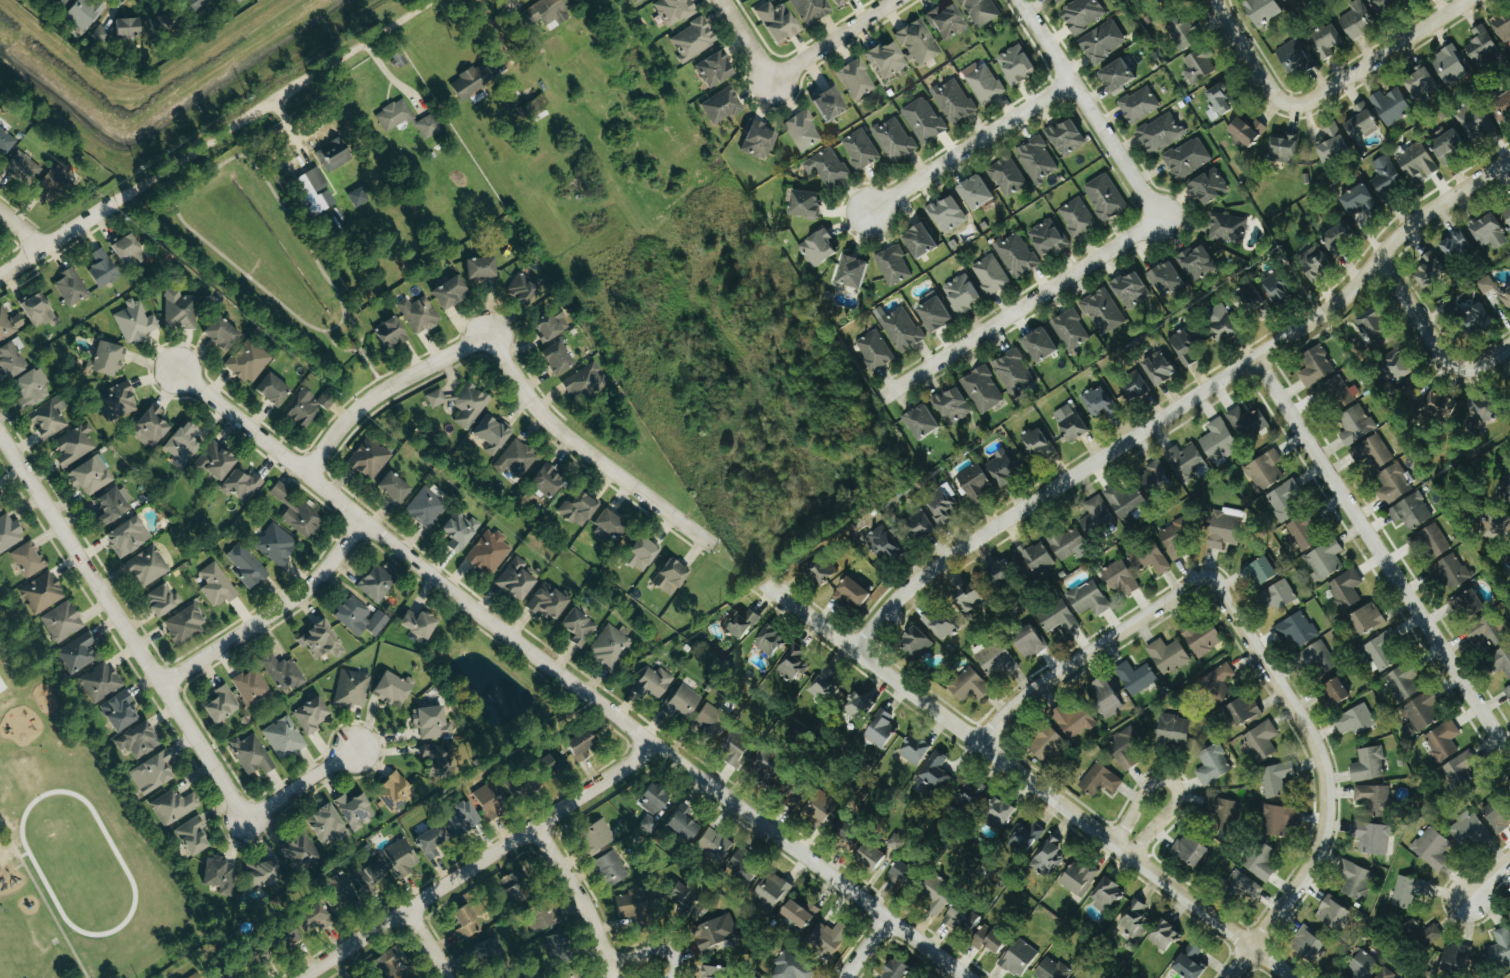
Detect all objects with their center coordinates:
building: (1053, 0)
building: (1169, 0)
building: (1286, 0)
building: (236, 1)
building: (636, 1)
building: (838, 2)
building: (56, 3)
building: (194, 4)
building: (1386, 5)
building: (673, 10)
building: (810, 10)
building: (1262, 10)
building: (980, 11)
building: (546, 13)
building: (82, 14)
building: (1082, 14)
building: (1357, 19)
building: (946, 21)
building: (776, 22)
building: (158, 23)
building: (125, 27)
building: (1503, 27)
building: (1183, 33)
building: (99, 34)
building: (692, 40)
road: (746, 40)
road: (833, 40)
building: (1325, 40)
building: (1102, 41)
building: (918, 42)
building: (1482, 47)
road: (1382, 57)
road: (1248, 58)
building: (1294, 58)
building: (886, 59)
building: (1016, 65)
building: (1449, 65)
building: (1199, 66)
building: (713, 69)
building: (1116, 75)
building: (855, 79)
building: (473, 81)
building: (985, 84)
building: (1421, 84)
building: (954, 101)
road: (270, 102)
building: (1218, 102)
building: (522, 104)
building: (828, 104)
building: (1139, 105)
building: (1391, 105)
building: (721, 106)
building: (1501, 107)
road: (1087, 109)
building: (394, 115)
building: (924, 120)
building: (1475, 122)
building: (1361, 123)
building: (427, 126)
building: (1247, 130)
building: (803, 131)
building: (1161, 133)
building: (2, 134)
building: (1066, 137)
building: (894, 139)
building: (757, 140)
building: (1332, 144)
building: (1448, 147)
road: (967, 148)
building: (1283, 148)
building: (860, 149)
building: (333, 155)
building: (1187, 158)
building: (1036, 160)
building: (1415, 160)
building: (827, 167)
building: (21, 168)
building: (1007, 176)
building: (1386, 178)
building: (53, 180)
building: (1209, 187)
building: (314, 191)
building: (975, 193)
building: (359, 195)
building: (1105, 197)
building: (1360, 201)
building: (805, 203)
building: (1507, 214)
building: (947, 215)
building: (1077, 218)
building: (1227, 228)
road: (22, 229)
building: (1489, 232)
building: (1339, 236)
building: (1047, 238)
road: (55, 239)
building: (919, 241)
building: (1455, 246)
building: (123, 248)
building: (818, 248)
building: (1016, 255)
building: (1315, 262)
building: (1197, 263)
building: (893, 265)
building: (102, 269)
building: (478, 269)
building: (1430, 270)
building: (851, 272)
building: (991, 275)
building: (1165, 279)
building: (1486, 285)
building: (70, 287)
building: (522, 287)
building: (1276, 288)
building: (1130, 289)
building: (448, 293)
building: (961, 294)
building: (1502, 296)
building: (1253, 300)
road: (1019, 308)
building: (1447, 309)
building: (36, 310)
building: (1103, 311)
building: (933, 313)
building: (419, 314)
building: (1477, 319)
building: (134, 322)
building: (1221, 322)
building: (9, 324)
building: (549, 325)
building: (1374, 326)
building: (900, 328)
building: (1070, 330)
building: (219, 334)
building: (389, 334)
road: (1430, 341)
building: (1039, 345)
building: (1183, 346)
building: (874, 350)
building: (555, 358)
building: (107, 360)
building: (248, 362)
building: (10, 363)
building: (1398, 365)
building: (1316, 366)
building: (1158, 369)
building: (1014, 372)
building: (584, 382)
building: (31, 387)
building: (1135, 387)
road: (384, 389)
building: (270, 390)
building: (982, 390)
building: (1409, 390)
building: (1336, 393)
building: (435, 398)
building: (117, 400)
building: (1099, 402)
building: (952, 405)
road: (1181, 405)
building: (1438, 405)
building: (469, 406)
building: (306, 407)
building: (1486, 408)
building: (48, 418)
building: (921, 422)
building: (1070, 422)
building: (1247, 423)
building: (1356, 425)
building: (149, 426)
building: (489, 435)
building: (184, 442)
building: (1219, 442)
building: (1038, 444)
building: (74, 445)
building: (1372, 452)
road: (585, 453)
building: (515, 457)
building: (369, 459)
building: (214, 462)
building: (1185, 462)
building: (1002, 470)
building: (1265, 470)
building: (90, 475)
building: (1156, 475)
building: (546, 481)
building: (975, 483)
building: (1393, 484)
building: (240, 485)
building: (392, 488)
building: (279, 491)
building: (1505, 491)
building: (1126, 500)
building: (1285, 500)
building: (941, 504)
building: (111, 506)
building: (425, 508)
building: (577, 509)
building: (1411, 512)
building: (1097, 518)
building: (301, 520)
building: (608, 523)
building: (920, 525)
building: (1496, 527)
building: (459, 531)
building: (8, 533)
building: (1303, 533)
building: (127, 537)
building: (1177, 537)
building: (1430, 541)
building: (276, 544)
building: (882, 544)
building: (1069, 544)
building: (488, 552)
building: (640, 555)
building: (1149, 558)
road: (413, 559)
building: (1036, 559)
road: (1381, 559)
building: (27, 560)
building: (1509, 560)
building: (1325, 561)
building: (246, 566)
building: (146, 567)
building: (822, 570)
building: (1262, 571)
building: (1453, 571)
building: (999, 574)
building: (669, 577)
building: (1120, 578)
building: (515, 579)
building: (376, 583)
building: (216, 585)
building: (1345, 589)
building: (42, 592)
building: (851, 593)
building: (1277, 596)
building: (1088, 599)
building: (161, 600)
building: (546, 602)
building: (1467, 606)
road: (270, 614)
building: (359, 617)
building: (1057, 617)
building: (1368, 620)
building: (61, 621)
building: (741, 623)
building: (185, 624)
building: (416, 625)
building: (937, 625)
building: (577, 627)
road: (122, 628)
building: (1297, 629)
building: (1486, 631)
building: (1204, 638)
building: (319, 641)
building: (769, 641)
building: (1029, 642)
building: (915, 643)
building: (609, 646)
building: (1382, 650)
building: (77, 653)
road: (1087, 654)
building: (1168, 656)
building: (1317, 657)
building: (996, 661)
building: (1501, 661)
building: (792, 664)
building: (282, 672)
building: (1136, 677)
building: (652, 682)
building: (1220, 682)
building: (1404, 682)
building: (98, 684)
park: (492, 686)
building: (970, 686)
building: (252, 687)
building: (1, 688)
building: (824, 688)
building: (350, 689)
building: (391, 689)
building: (1337, 689)
building: (1507, 691)
building: (1104, 697)
building: (681, 701)
building: (221, 705)
building: (857, 707)
building: (1244, 708)
building: (1422, 711)
building: (118, 712)
building: (310, 716)
building: (1355, 719)
building: (1074, 720)
building: (710, 722)
building: (430, 723)
building: (880, 729)
building: (1173, 729)
building: (284, 739)
building: (140, 740)
building: (1262, 740)
building: (1443, 740)
building: (1046, 744)
building: (578, 745)
building: (736, 745)
building: (1127, 747)
building: (915, 750)
building: (251, 755)
road: (1318, 758)
building: (767, 760)
building: (436, 762)
building: (551, 762)
building: (1213, 764)
building: (1368, 764)
building: (1460, 767)
building: (151, 773)
building: (934, 773)
building: (1276, 778)
building: (1100, 779)
road: (1027, 780)
road: (302, 782)
road: (1168, 784)
building: (513, 785)
building: (392, 791)
building: (973, 794)
building: (795, 795)
building: (652, 798)
building: (1374, 798)
building: (489, 802)
building: (173, 807)
building: (820, 808)
building: (353, 811)
building: (998, 811)
building: (1226, 814)
building: (1496, 816)
building: (459, 818)
building: (1279, 820)
building: (683, 823)
building: (324, 825)
building: (843, 830)
building: (1469, 831)
building: (597, 833)
building: (192, 837)
building: (1024, 837)
building: (1373, 837)
building: (429, 840)
building: (896, 842)
building: (713, 845)
building: (1432, 847)
building: (1190, 849)
building: (303, 853)
building: (870, 854)
building: (1048, 856)
building: (400, 857)
building: (1260, 860)
road: (808, 861)
road: (478, 863)
building: (742, 867)
building: (610, 868)
building: (369, 874)
building: (902, 874)
building: (261, 875)
building: (219, 876)
building: (1079, 878)
building: (1355, 879)
road: (1484, 882)
building: (515, 885)
building: (1245, 885)
building: (337, 890)
building: (772, 890)
building: (1408, 891)
building: (1106, 893)
building: (936, 895)
building: (682, 897)
road: (578, 898)
building: (1509, 898)
road: (43, 900)
building: (633, 904)
building: (1332, 912)
building: (800, 913)
building: (542, 915)
building: (1508, 916)
building: (311, 917)
building: (961, 918)
building: (1135, 919)
building: (464, 922)
building: (715, 931)
building: (1424, 933)
building: (287, 935)
building: (1164, 935)
building: (829, 938)
building: (988, 939)
road: (425, 944)
building: (1308, 944)
building: (556, 945)
park: (20, 947)
road: (864, 948)
building: (1499, 948)
building: (486, 950)
road: (648, 954)
building: (1019, 957)
building: (1456, 957)
building: (1190, 961)
building: (388, 963)
road: (1239, 963)
building: (1363, 965)
building: (791, 968)
building: (896, 969)
building: (1052, 970)
building: (713, 971)
building: (222, 974)
building: (1386, 974)
building: (194, 976)
building: (570, 977)

